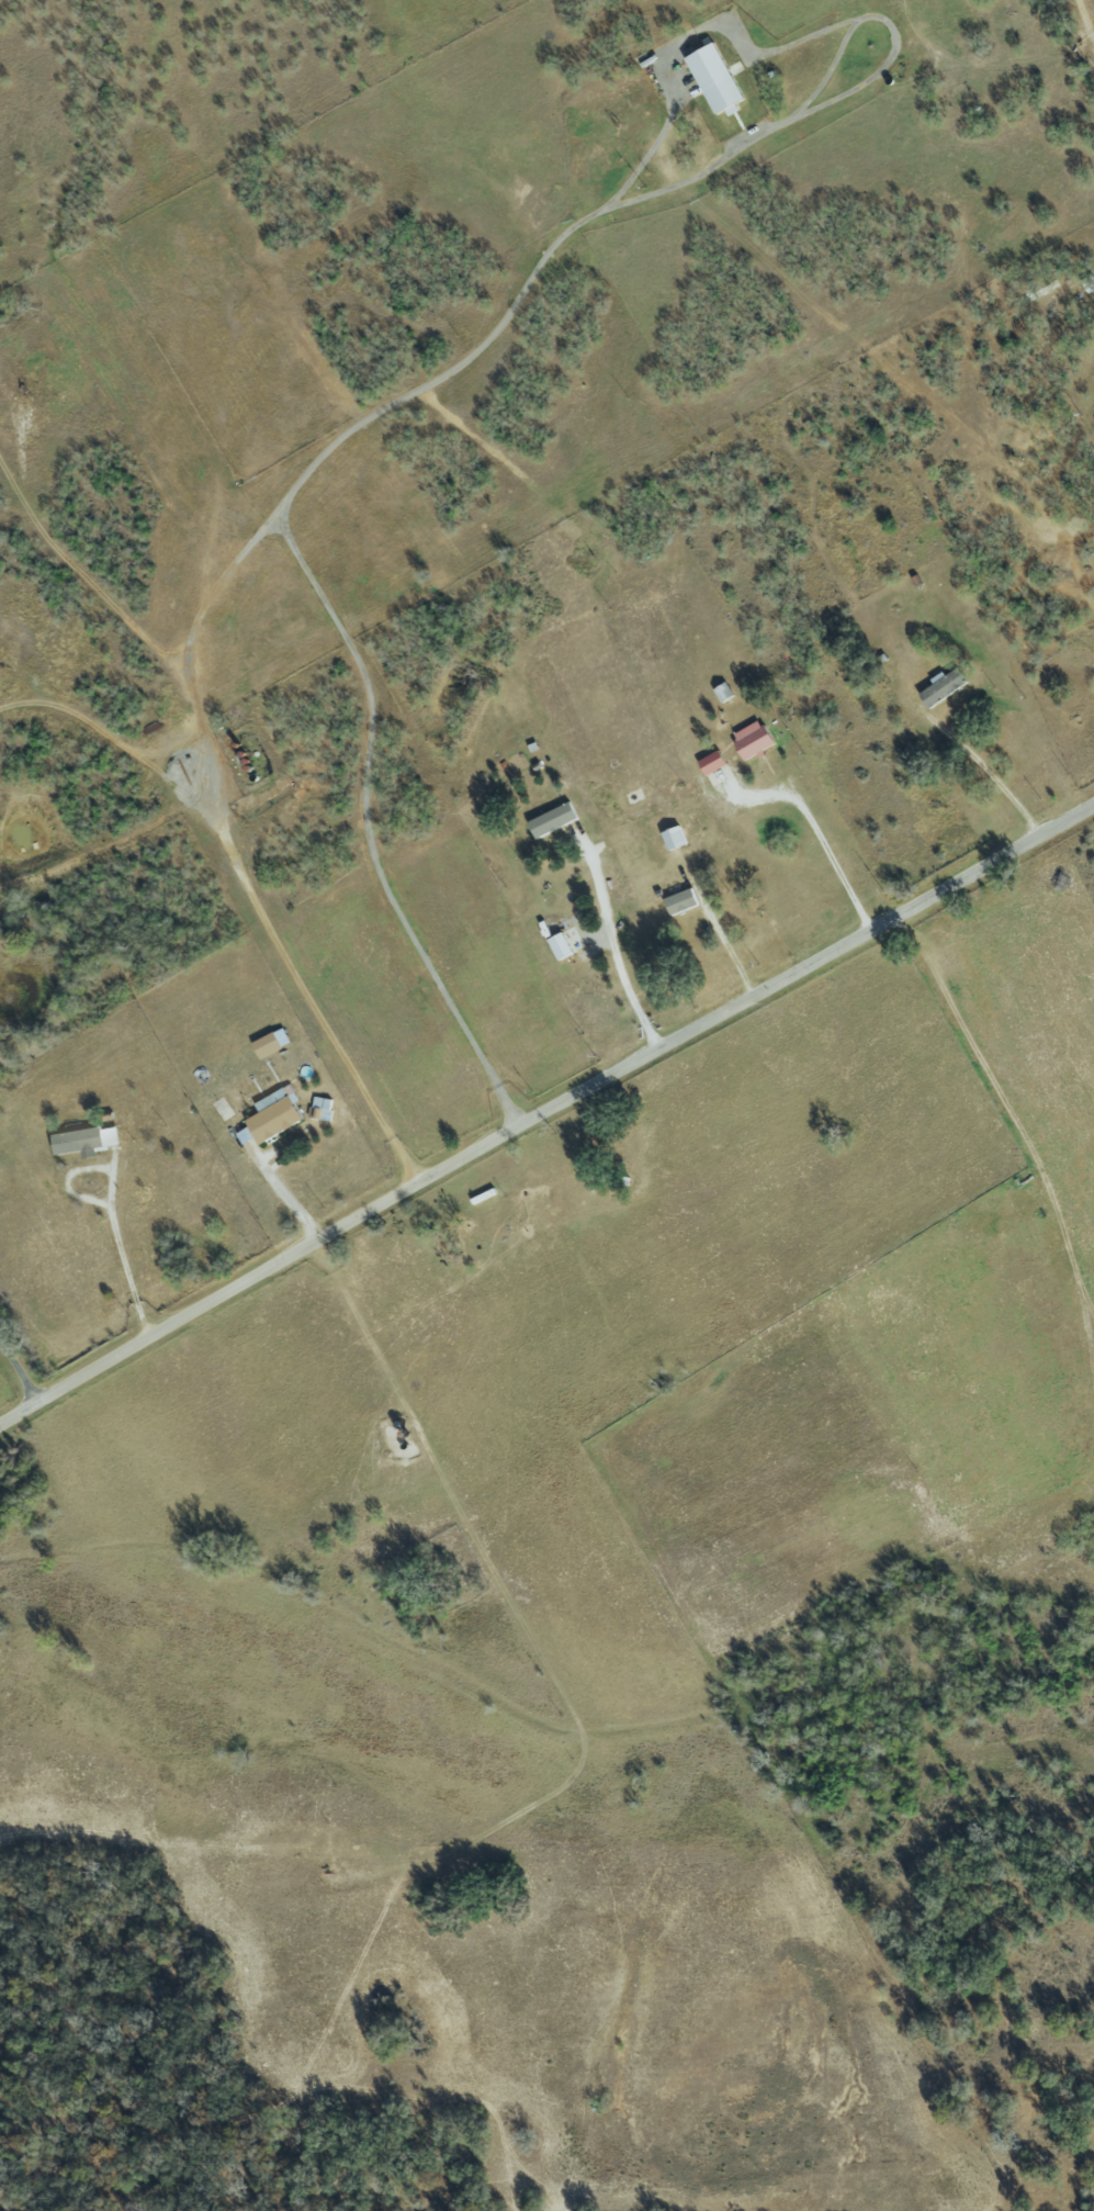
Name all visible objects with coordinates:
building: (710, 79)
road: (236, 564)
building: (939, 687)
building: (749, 740)
building: (709, 763)
road: (984, 772)
building: (550, 820)
building: (670, 838)
road: (817, 838)
building: (678, 901)
road: (720, 931)
road: (612, 943)
building: (556, 946)
building: (263, 1045)
building: (318, 1105)
building: (269, 1116)
road: (545, 1116)
building: (83, 1142)
road: (284, 1199)
road: (110, 1203)
road: (19, 1366)

